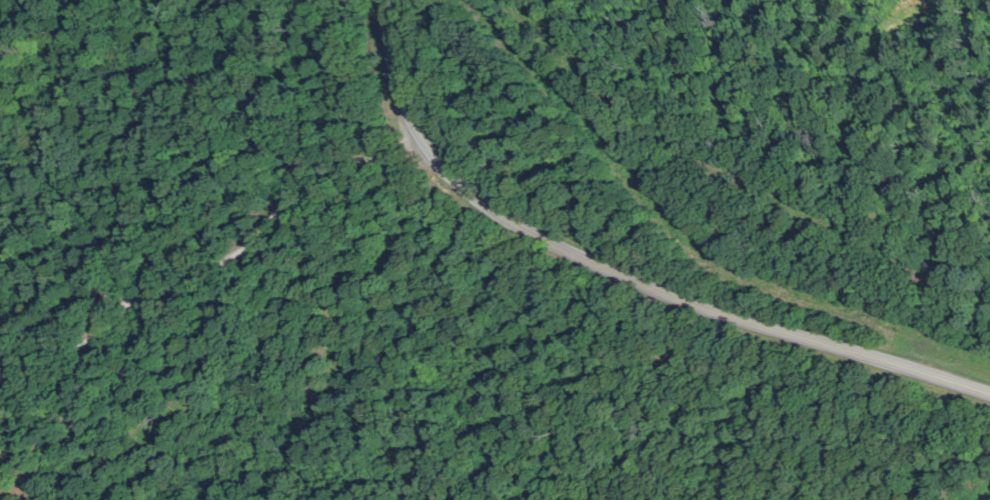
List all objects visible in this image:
road: (621, 269)

